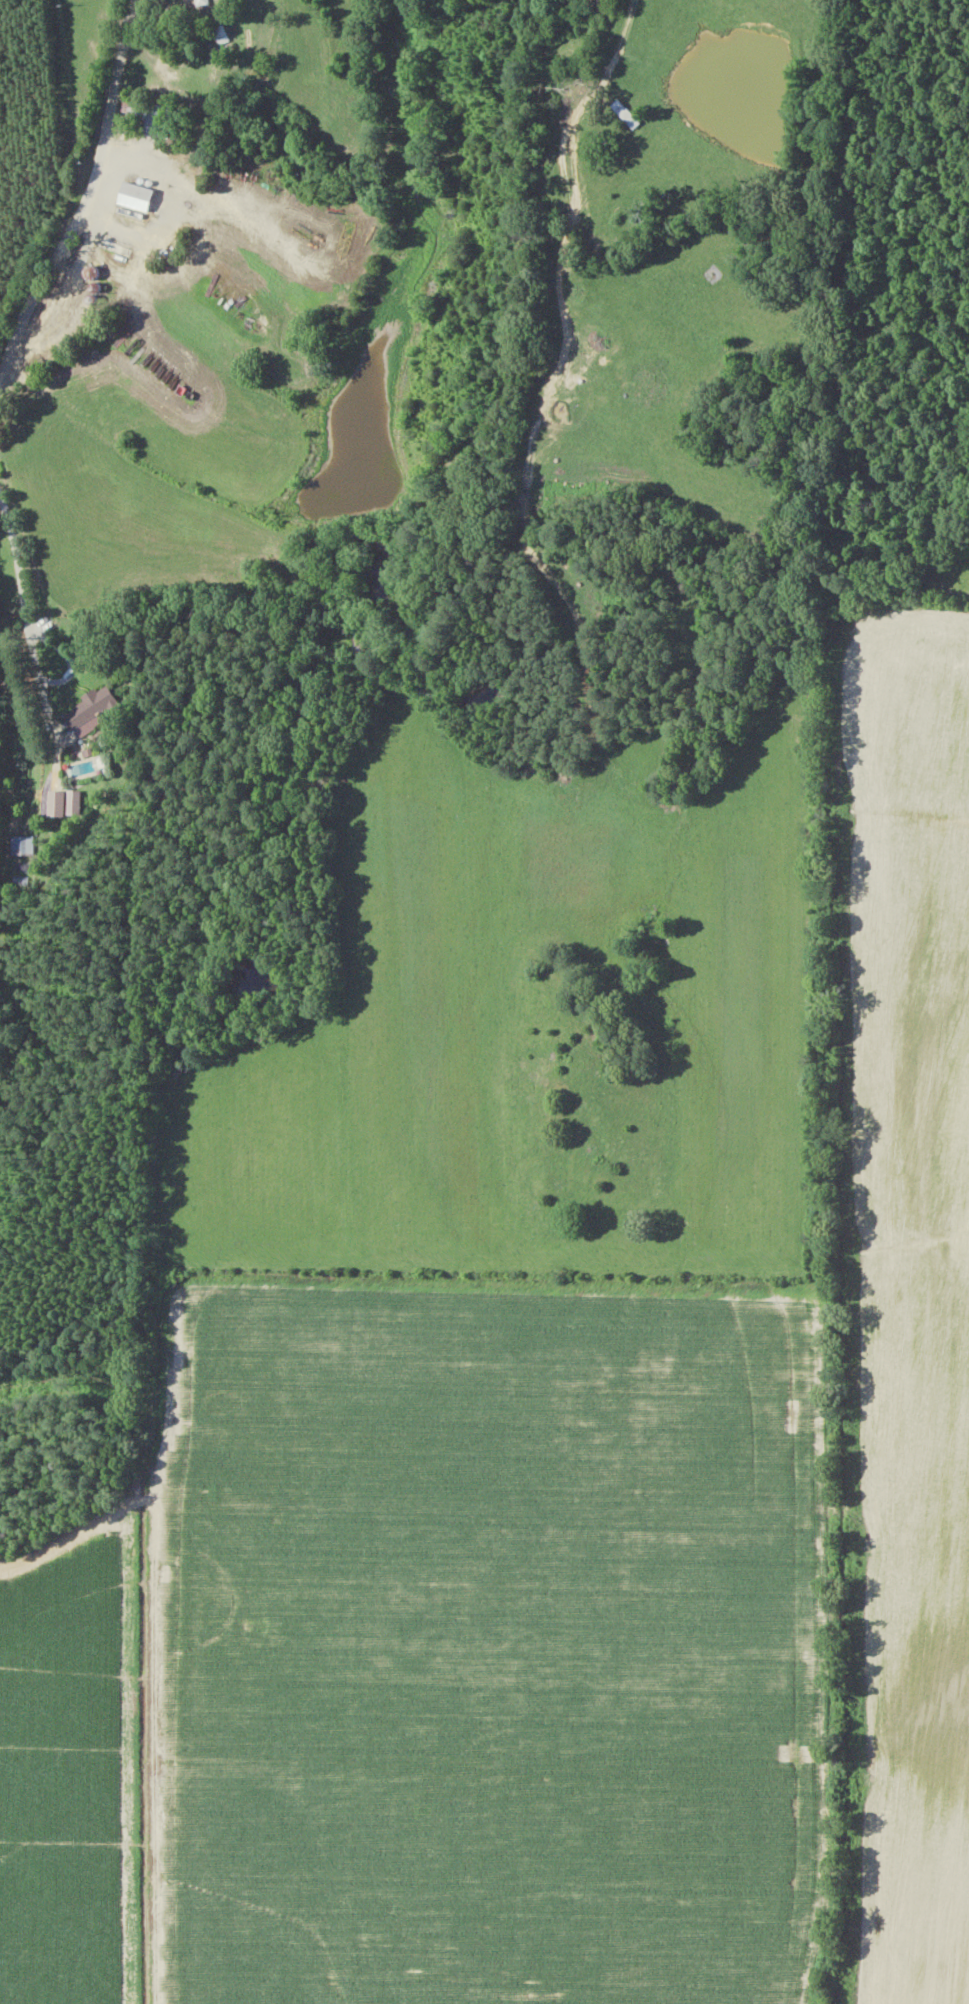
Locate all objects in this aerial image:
building: (624, 114)
building: (150, 120)
road: (86, 201)
building: (132, 204)
building: (89, 273)
road: (246, 275)
building: (91, 711)
building: (54, 804)
building: (20, 846)

